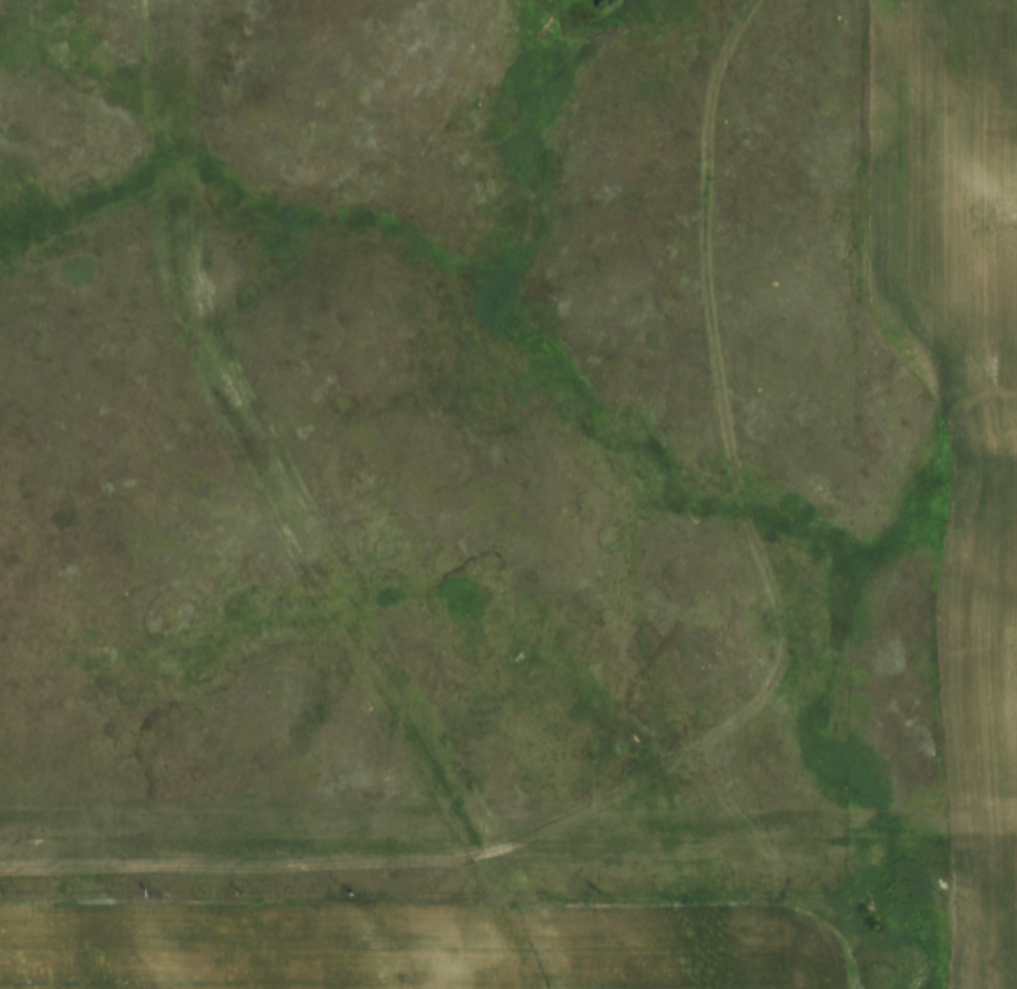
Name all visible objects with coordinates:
road: (733, 720)

